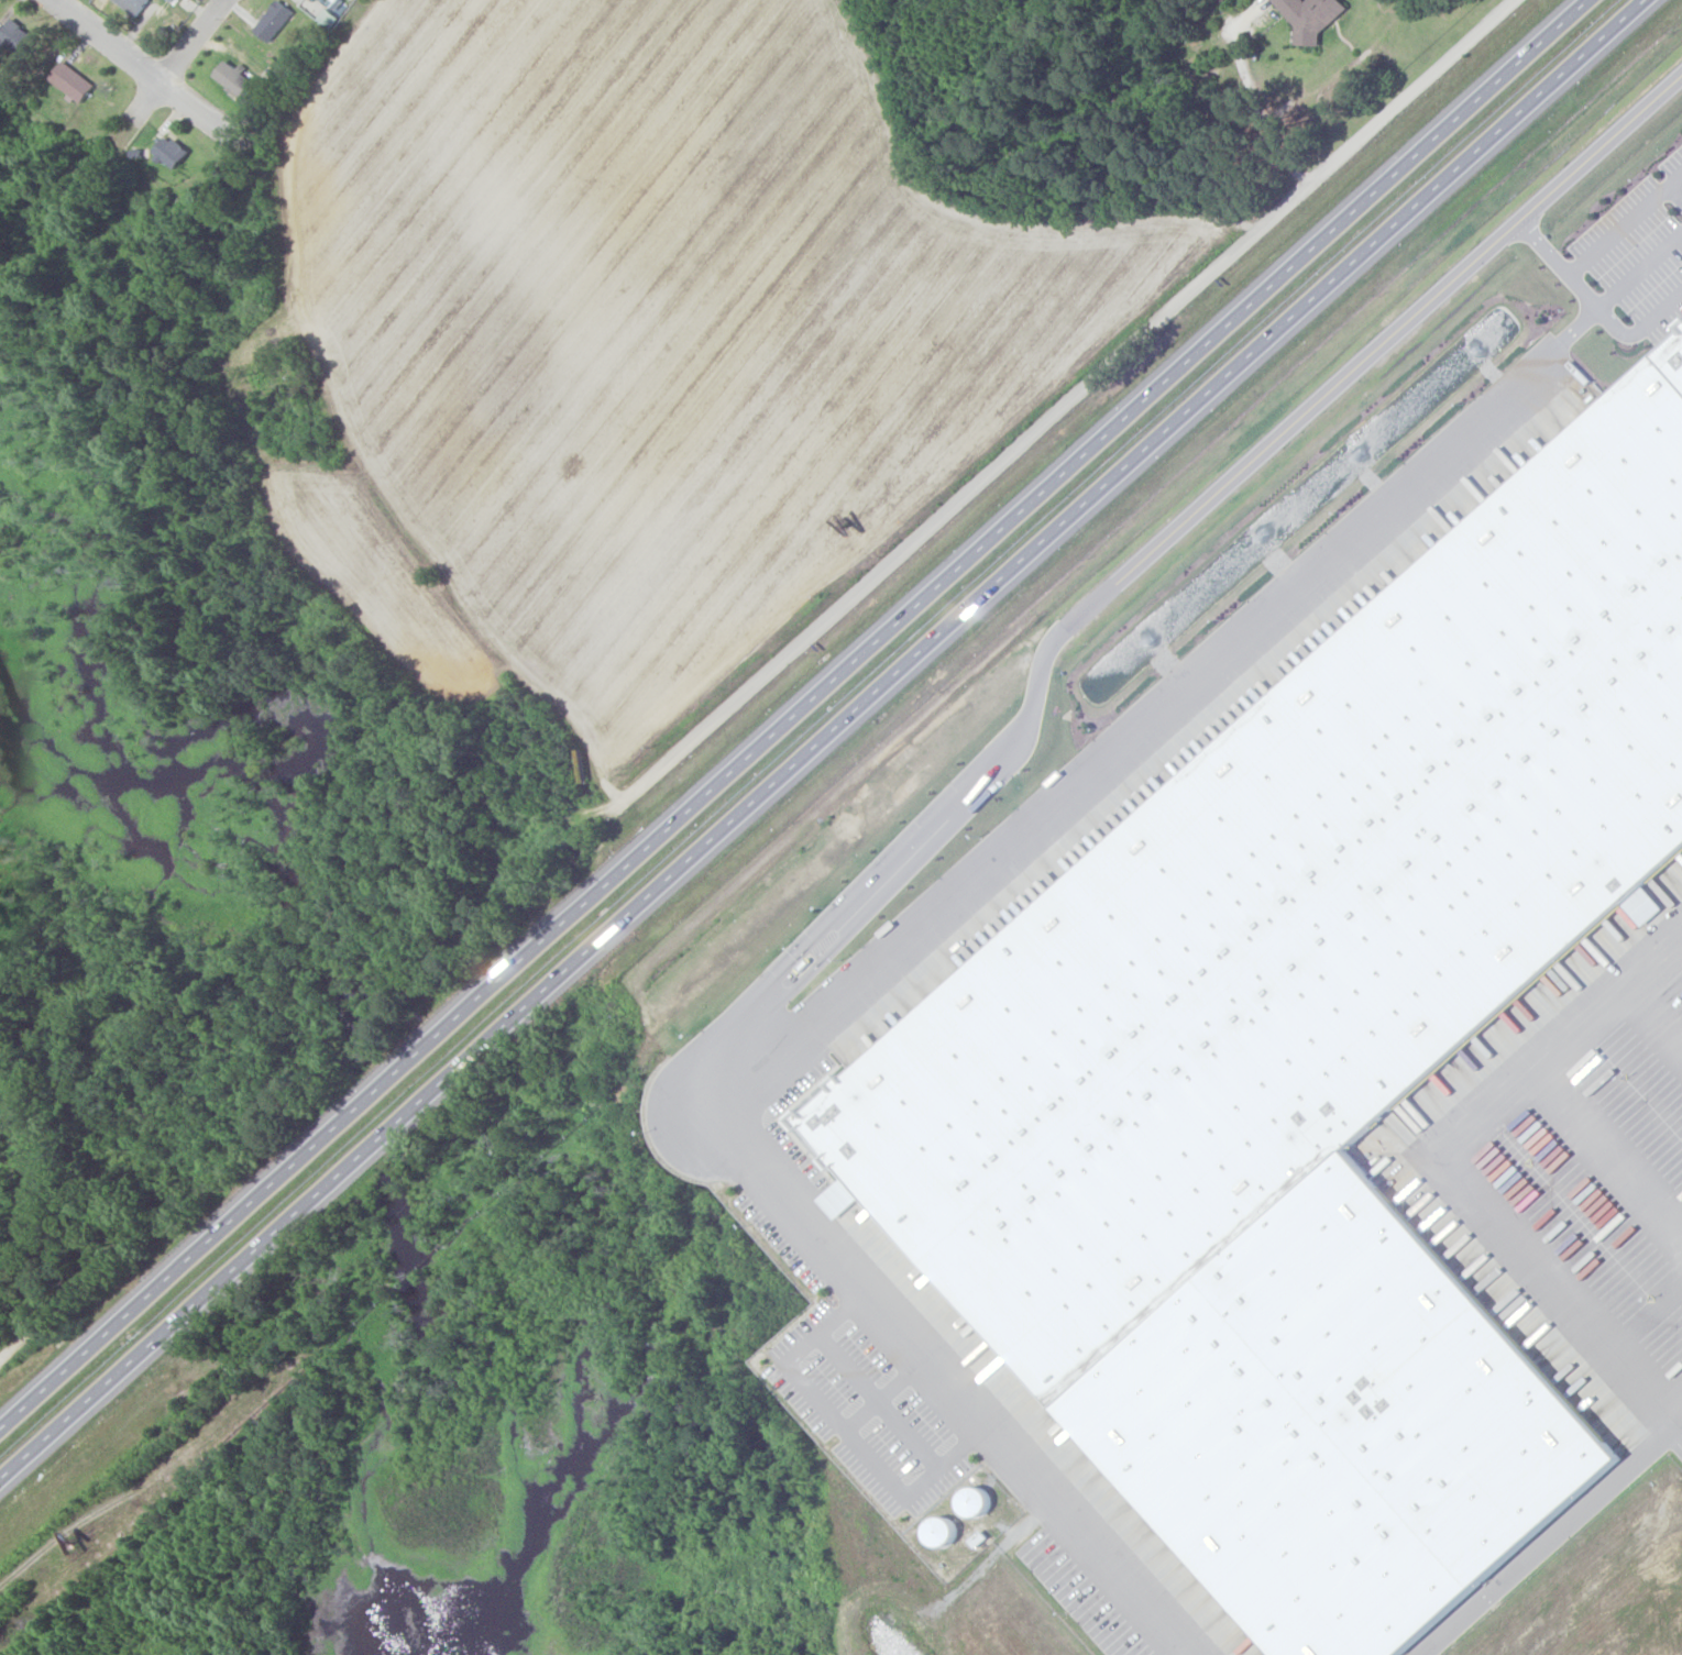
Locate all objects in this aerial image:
building: (131, 5)
building: (1308, 15)
building: (272, 22)
building: (14, 40)
road: (191, 41)
road: (141, 68)
building: (235, 82)
building: (70, 84)
building: (165, 156)
road: (1674, 194)
road: (1624, 223)
road: (1639, 272)
road: (1640, 330)
fountain: (1472, 350)
road: (1337, 383)
road: (1079, 396)
fountain: (1357, 454)
fountain: (1254, 547)
road: (1244, 633)
fountain: (1146, 642)
road: (800, 716)
road: (825, 742)
road: (831, 934)
building: (813, 964)
road: (1653, 1009)
building: (1316, 1063)
road: (1606, 1151)
road: (1561, 1293)
road: (57, 1312)
road: (952, 1380)
road: (891, 1393)
road: (884, 1399)
road: (1679, 1417)
road: (850, 1428)
building: (979, 1501)
building: (946, 1529)

